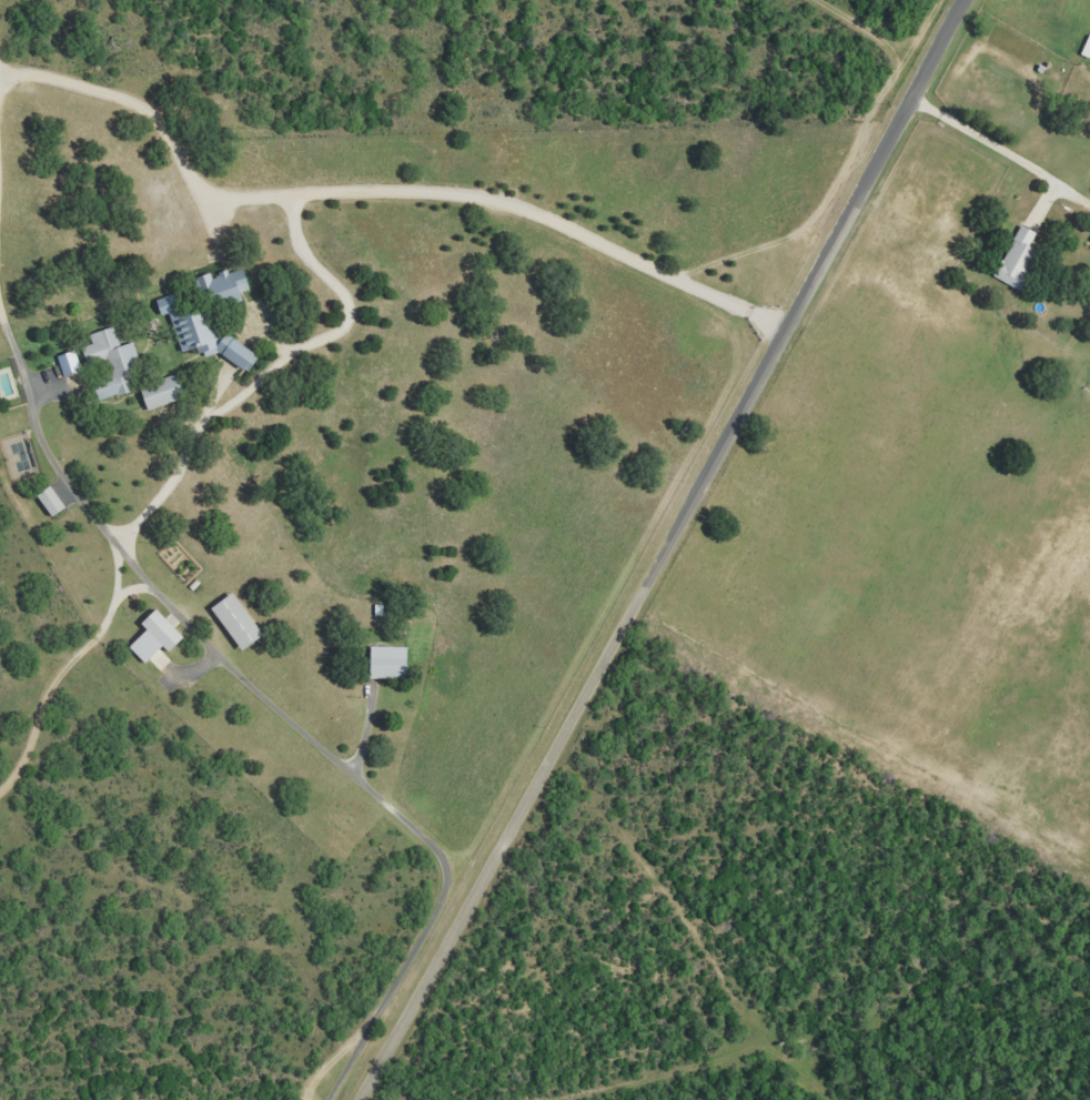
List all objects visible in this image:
road: (865, 37)
building: (1086, 47)
road: (995, 143)
road: (373, 200)
building: (1016, 260)
building: (108, 363)
road: (260, 367)
building: (158, 392)
building: (46, 499)
road: (660, 549)
road: (118, 586)
road: (109, 615)
building: (232, 619)
building: (151, 635)
building: (384, 662)
road: (277, 703)
road: (769, 1089)
road: (392, 1090)

